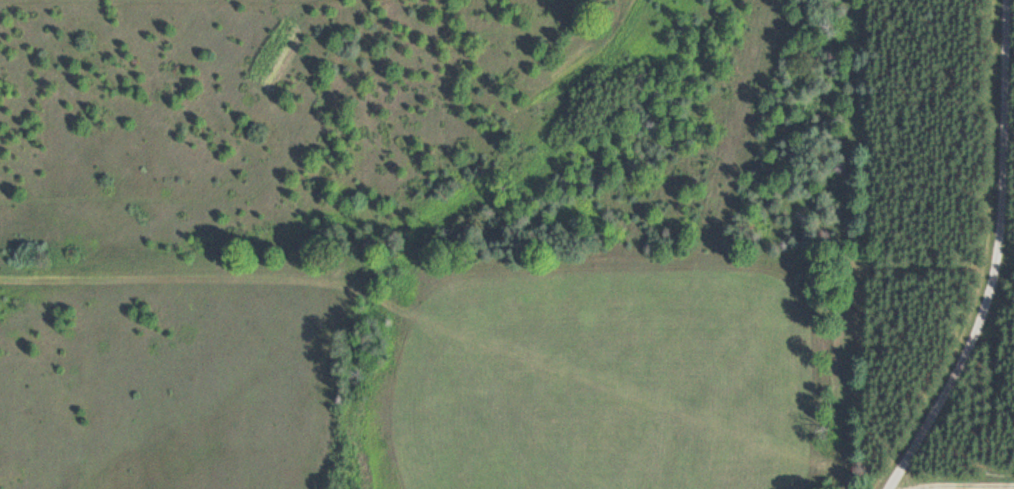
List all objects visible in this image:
road: (1005, 260)

